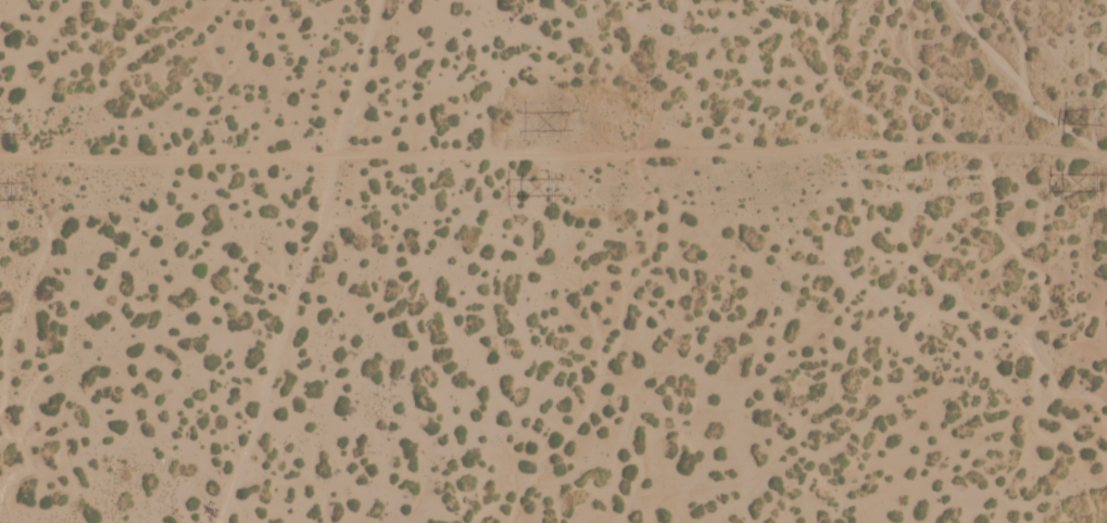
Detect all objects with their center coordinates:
power tower: (1102, 114)
power tower: (561, 119)
power tower: (18, 123)
power tower: (1100, 179)
power tower: (558, 182)
power tower: (20, 186)
road: (326, 260)
road: (551, 291)
road: (78, 470)

